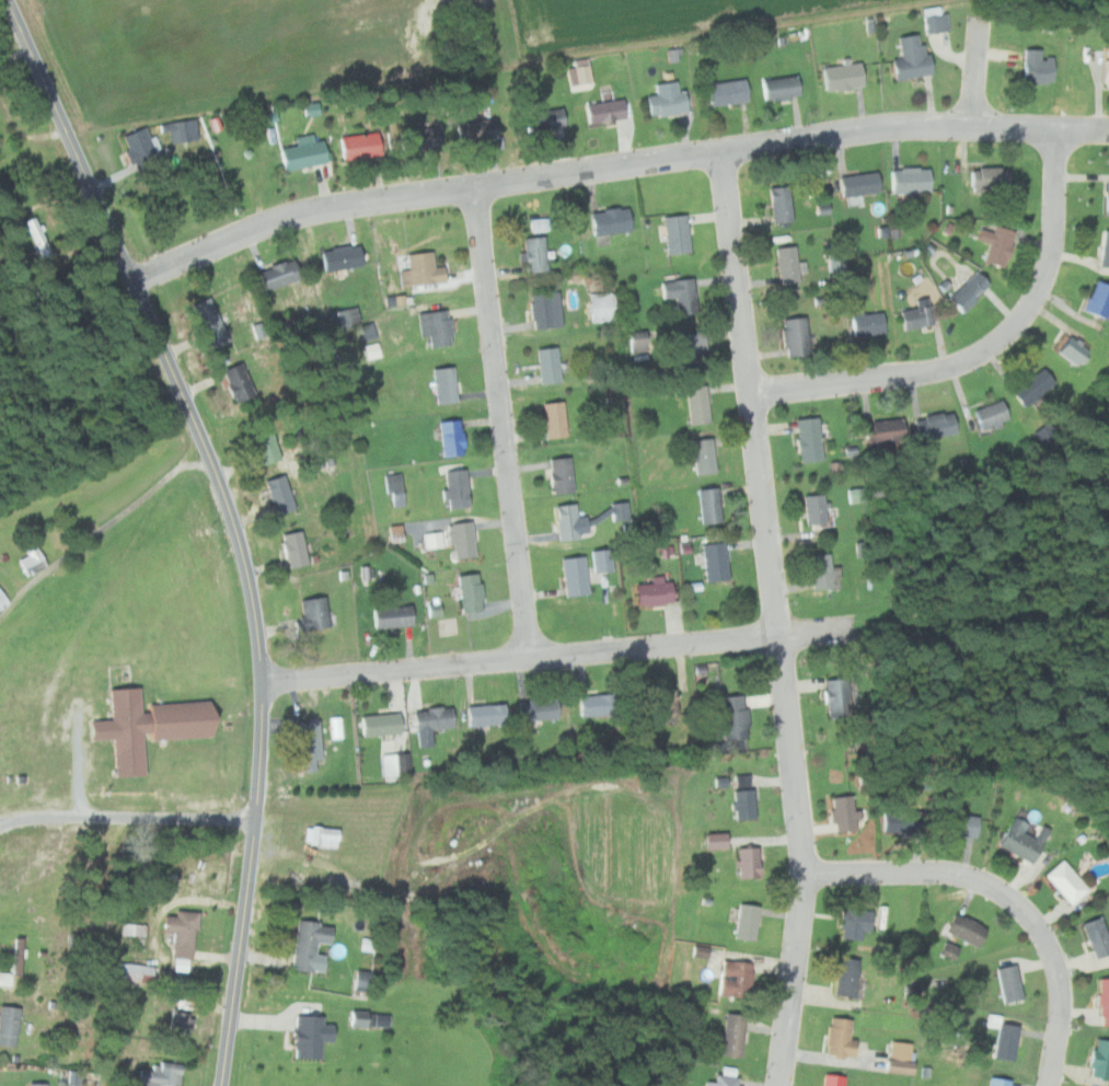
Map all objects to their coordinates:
building: (933, 21)
building: (909, 58)
building: (1035, 67)
road: (978, 71)
building: (1106, 73)
building: (840, 77)
building: (777, 89)
building: (725, 93)
building: (667, 96)
building: (604, 113)
building: (0, 114)
building: (543, 120)
building: (473, 131)
building: (417, 139)
building: (357, 146)
building: (146, 148)
building: (301, 153)
road: (614, 166)
building: (987, 180)
building: (908, 181)
building: (857, 185)
building: (1107, 198)
building: (781, 204)
building: (609, 221)
road: (108, 226)
building: (675, 234)
building: (39, 236)
building: (994, 245)
building: (1105, 251)
building: (534, 254)
building: (339, 258)
building: (834, 262)
building: (786, 265)
building: (420, 270)
building: (276, 275)
building: (966, 291)
building: (680, 294)
building: (1097, 300)
building: (603, 307)
building: (545, 310)
building: (915, 315)
building: (342, 319)
building: (209, 323)
building: (867, 324)
building: (435, 327)
building: (367, 331)
building: (794, 336)
building: (693, 348)
road: (989, 349)
building: (1071, 349)
building: (369, 351)
building: (547, 366)
building: (236, 384)
building: (443, 385)
building: (1030, 388)
building: (696, 404)
building: (990, 415)
building: (554, 419)
road: (500, 421)
building: (934, 426)
building: (881, 431)
building: (450, 438)
building: (807, 439)
building: (263, 446)
building: (701, 455)
road: (197, 463)
building: (561, 475)
building: (395, 488)
building: (455, 488)
building: (278, 495)
building: (708, 506)
building: (813, 509)
building: (566, 521)
road: (103, 527)
building: (461, 540)
building: (293, 550)
building: (34, 558)
building: (601, 561)
building: (714, 563)
building: (819, 571)
building: (574, 576)
building: (469, 592)
building: (651, 592)
building: (2, 602)
building: (430, 610)
building: (312, 613)
building: (391, 616)
road: (777, 619)
road: (827, 631)
road: (521, 658)
building: (836, 697)
building: (598, 705)
building: (659, 705)
building: (538, 710)
building: (485, 715)
building: (732, 718)
building: (434, 719)
building: (380, 725)
building: (152, 727)
building: (309, 741)
road: (261, 765)
building: (742, 805)
building: (841, 814)
road: (127, 817)
building: (899, 822)
building: (958, 825)
building: (323, 836)
building: (714, 842)
building: (1018, 842)
building: (748, 863)
building: (1065, 882)
building: (166, 886)
road: (1008, 896)
building: (859, 922)
building: (747, 923)
building: (136, 929)
building: (963, 934)
building: (1099, 935)
building: (184, 941)
building: (312, 943)
building: (20, 956)
building: (136, 972)
building: (850, 975)
building: (737, 978)
building: (1013, 982)
building: (1106, 1000)
building: (184, 1016)
building: (359, 1017)
building: (10, 1026)
building: (736, 1033)
building: (843, 1036)
building: (1006, 1036)
building: (311, 1037)
building: (904, 1056)
building: (1101, 1059)
building: (164, 1075)
building: (835, 1079)
building: (725, 1081)
building: (1001, 1081)
building: (41, 1085)

